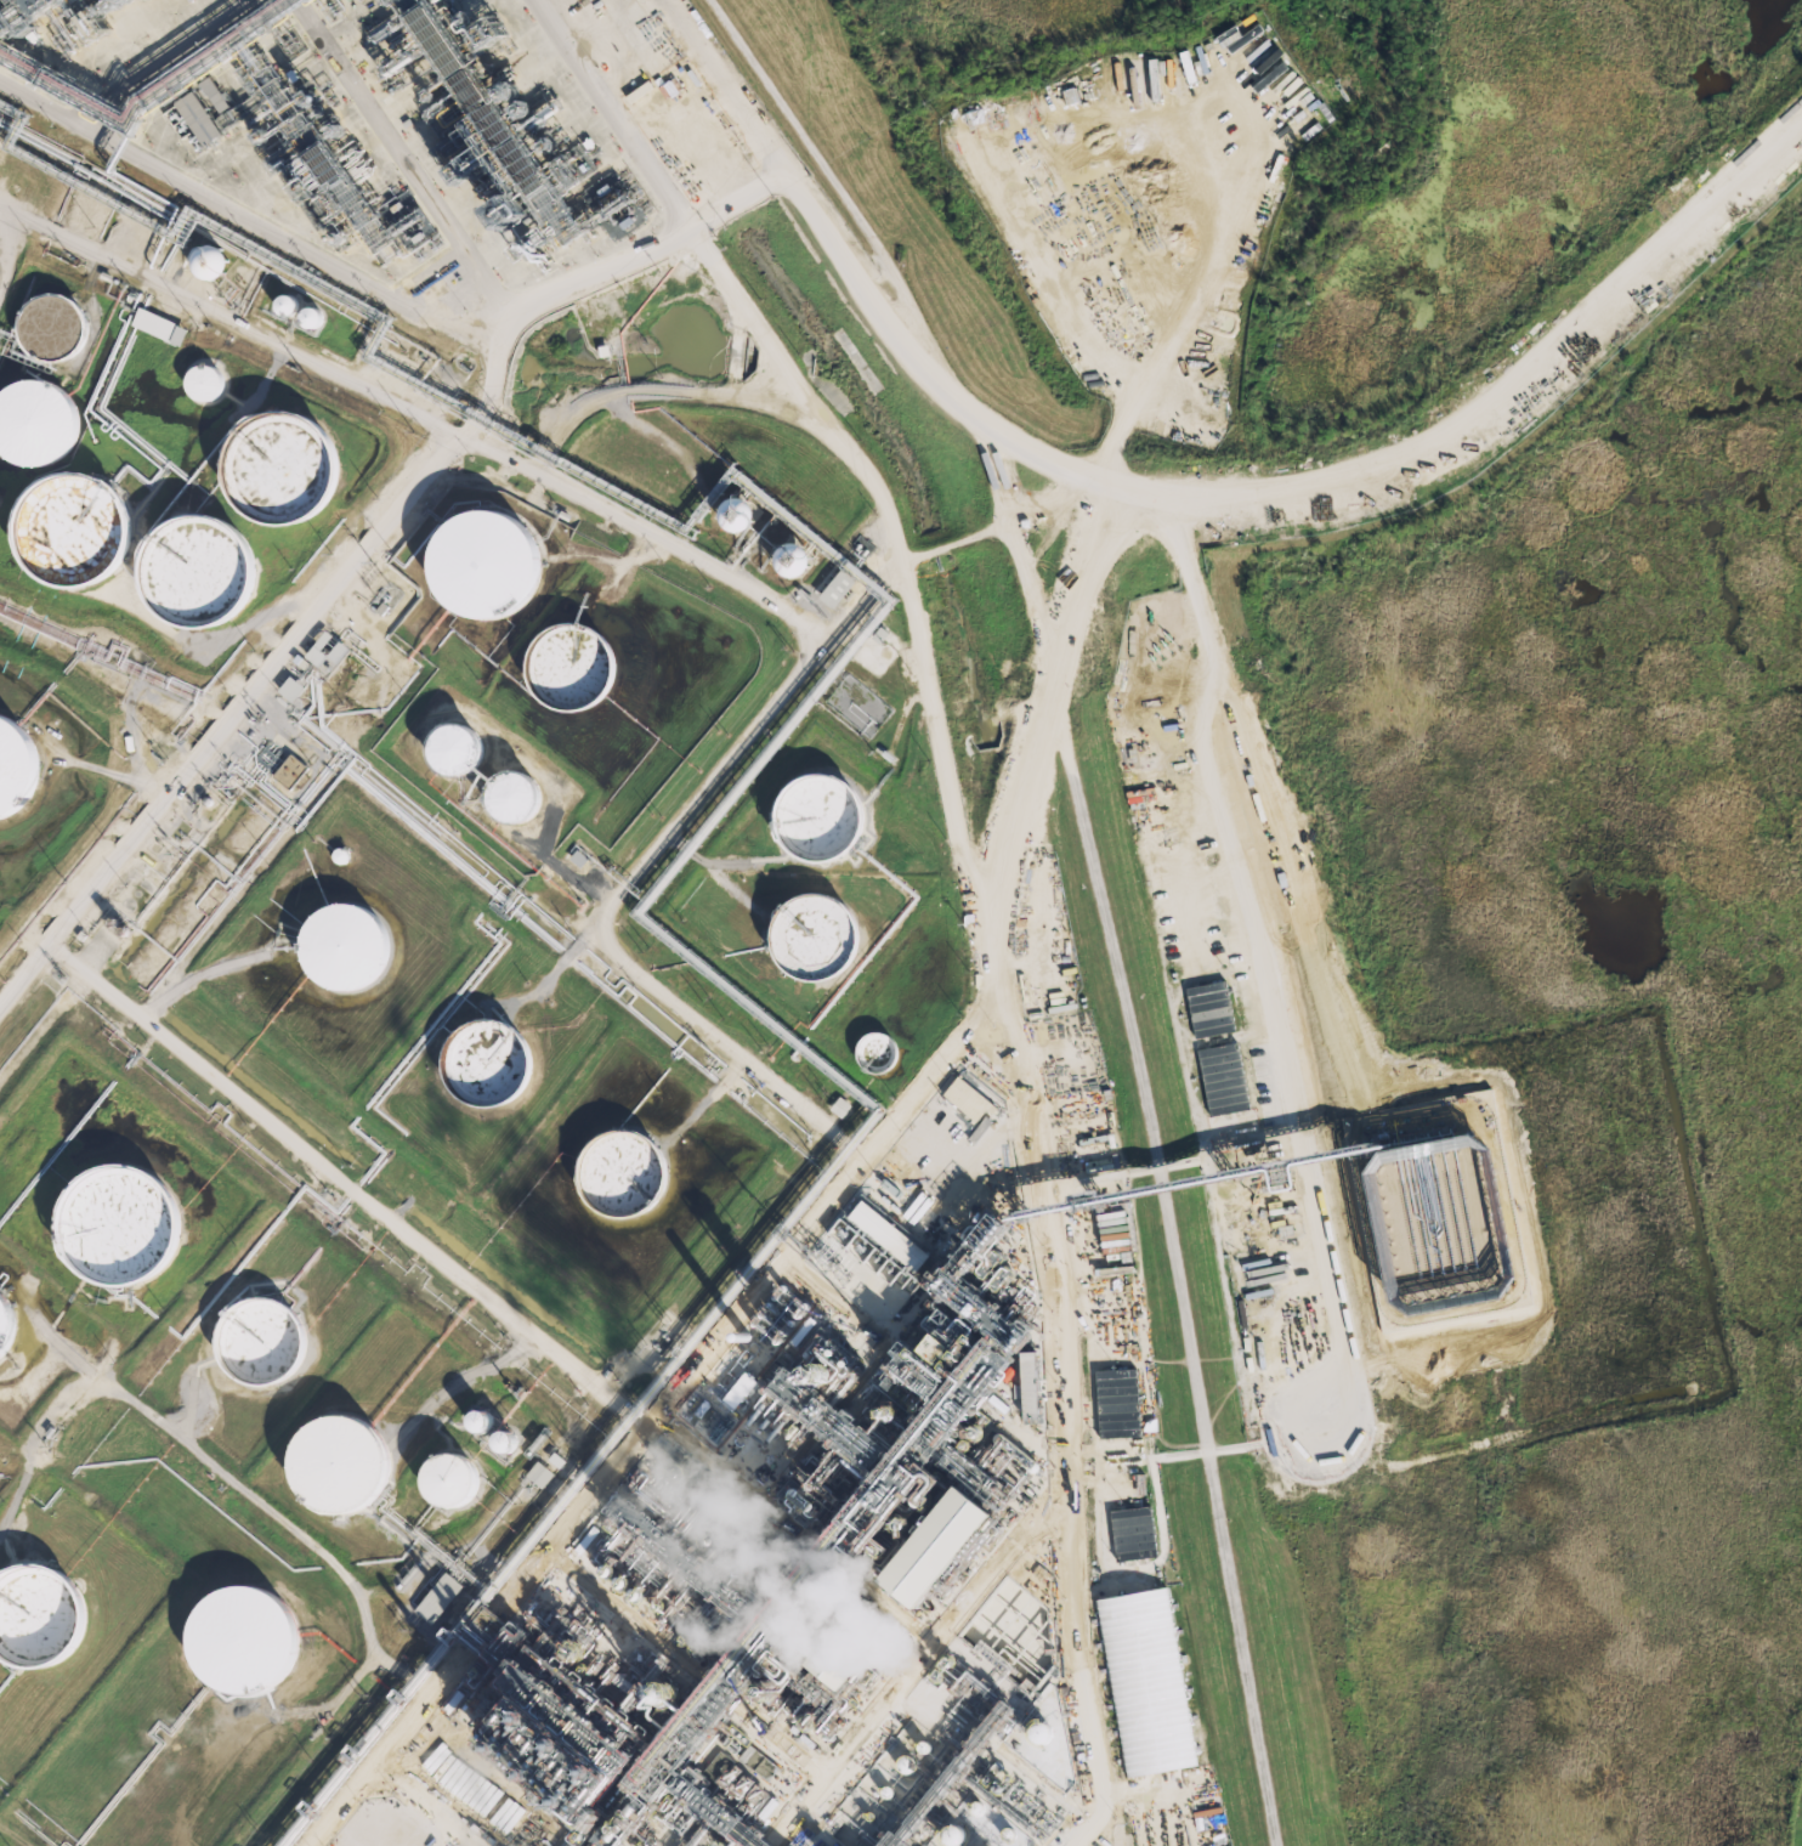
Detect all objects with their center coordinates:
building: (211, 95)
road: (45, 101)
building: (1291, 106)
building: (192, 118)
road: (205, 187)
road: (673, 198)
building: (200, 262)
building: (287, 305)
building: (276, 306)
building: (311, 317)
building: (300, 318)
building: (157, 325)
building: (42, 329)
building: (195, 383)
road: (414, 414)
building: (30, 423)
road: (460, 435)
building: (267, 469)
building: (726, 516)
building: (58, 531)
building: (781, 562)
building: (469, 566)
building: (182, 572)
building: (837, 588)
building: (327, 651)
building: (560, 668)
building: (291, 687)
road: (1207, 693)
building: (441, 752)
building: (7, 769)
storage tank: (7, 769)
building: (285, 772)
building: (499, 800)
building: (820, 816)
building: (342, 855)
building: (578, 855)
road: (1100, 883)
building: (804, 939)
building: (352, 944)
road: (685, 1004)
building: (1209, 1008)
building: (871, 1054)
building: (494, 1061)
building: (1223, 1078)
building: (968, 1098)
building: (840, 1106)
building: (629, 1172)
road: (350, 1185)
building: (126, 1222)
storage tank: (126, 1222)
building: (7, 1323)
building: (267, 1338)
building: (1030, 1384)
building: (1118, 1403)
building: (489, 1420)
building: (480, 1421)
building: (505, 1440)
building: (515, 1440)
building: (348, 1462)
building: (543, 1474)
building: (460, 1478)
building: (1133, 1533)
building: (637, 1592)
building: (442, 1598)
building: (41, 1615)
building: (251, 1638)
road: (412, 1669)
building: (1146, 1682)
building: (667, 1692)
building: (1039, 1732)
building: (907, 1765)
building: (954, 1834)
building: (634, 1842)

